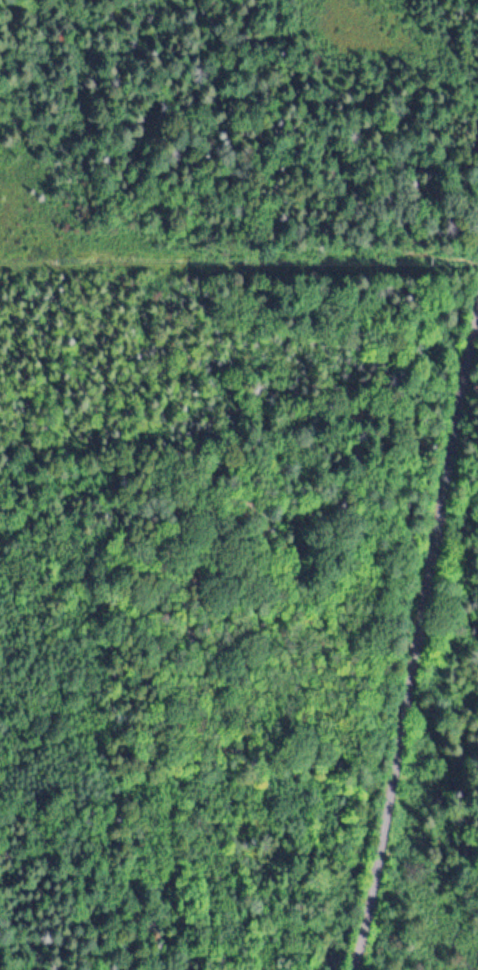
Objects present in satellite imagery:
road: (414, 637)

